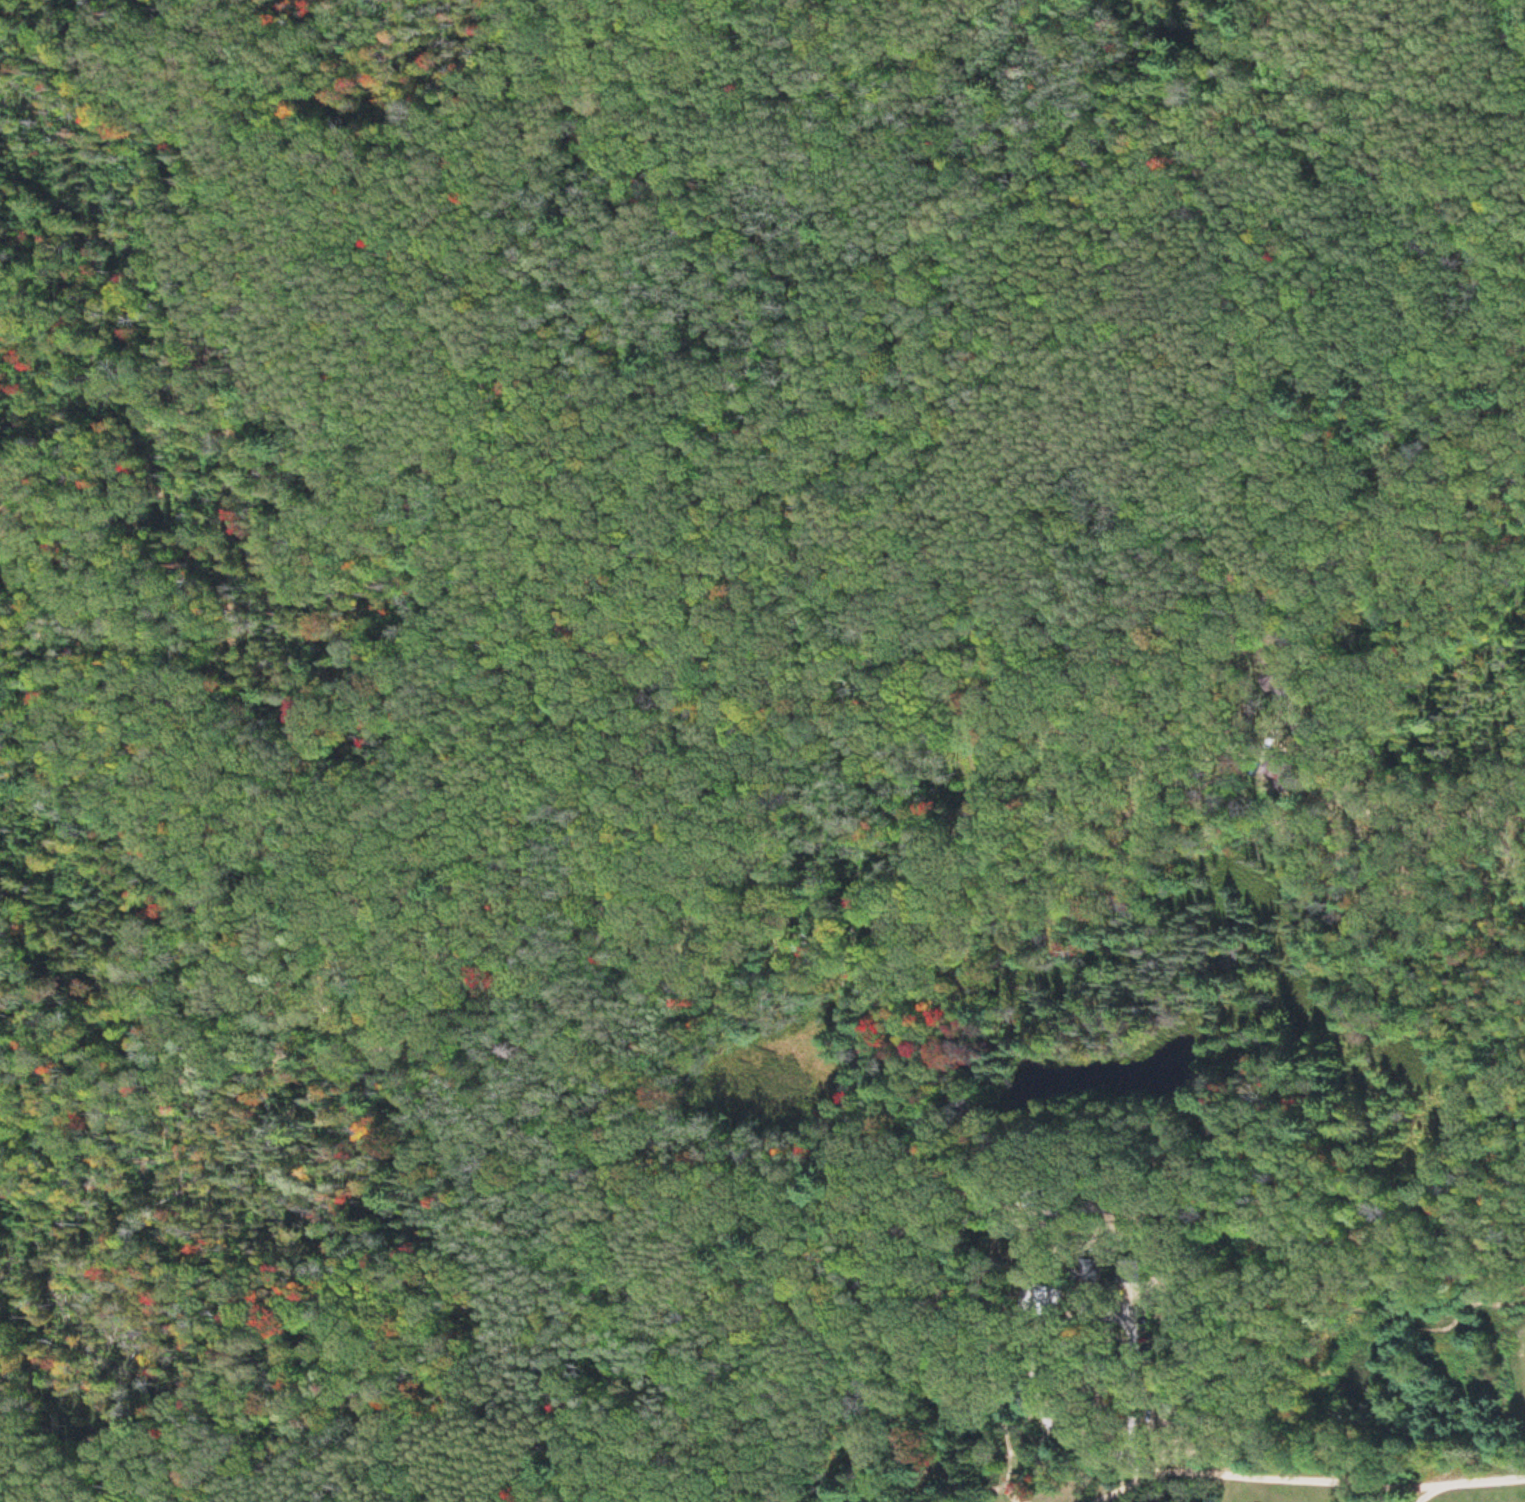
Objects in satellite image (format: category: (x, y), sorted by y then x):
road: (1274, 712)
road: (392, 1065)
road: (813, 1207)
road: (921, 1468)
road: (1366, 1483)

